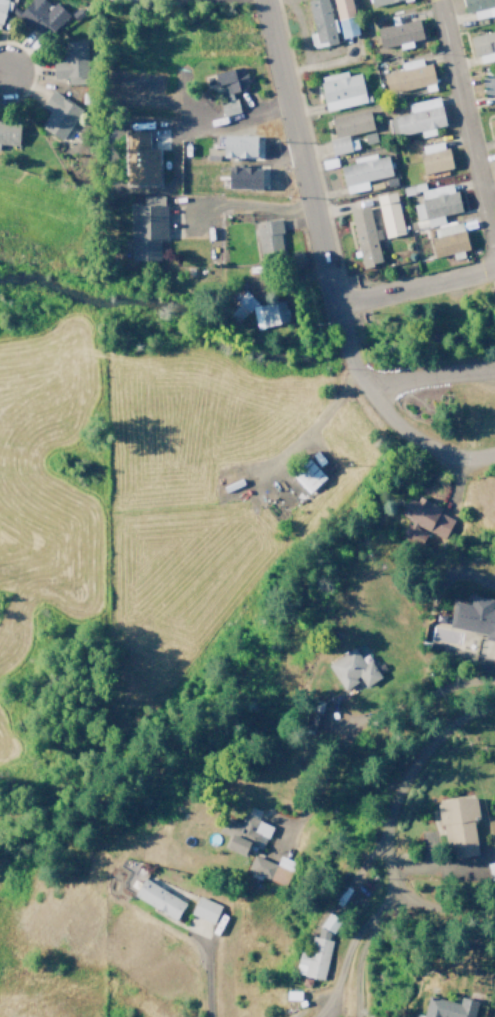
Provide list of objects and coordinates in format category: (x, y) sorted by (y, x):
building: (379, 2)
building: (479, 7)
building: (2, 8)
building: (41, 16)
building: (343, 18)
building: (319, 23)
building: (397, 35)
building: (483, 46)
building: (70, 63)
road: (2, 72)
building: (408, 76)
building: (487, 84)
building: (229, 88)
building: (340, 90)
building: (57, 116)
building: (417, 119)
road: (225, 121)
building: (492, 127)
road: (463, 128)
building: (348, 131)
building: (8, 134)
building: (236, 147)
building: (433, 157)
road: (297, 159)
building: (139, 160)
building: (363, 172)
building: (240, 178)
building: (151, 200)
road: (237, 203)
building: (435, 204)
building: (389, 214)
building: (145, 232)
building: (363, 237)
building: (269, 239)
building: (447, 240)
road: (413, 287)
building: (251, 309)
road: (341, 340)
road: (426, 376)
road: (403, 438)
building: (306, 475)
building: (427, 516)
building: (412, 533)
building: (352, 670)
road: (425, 688)
building: (457, 826)
building: (242, 833)
road: (382, 848)
building: (270, 869)
building: (491, 869)
building: (157, 899)
road: (441, 907)
building: (204, 909)
building: (317, 950)
road: (402, 956)
road: (200, 982)
building: (449, 1008)

